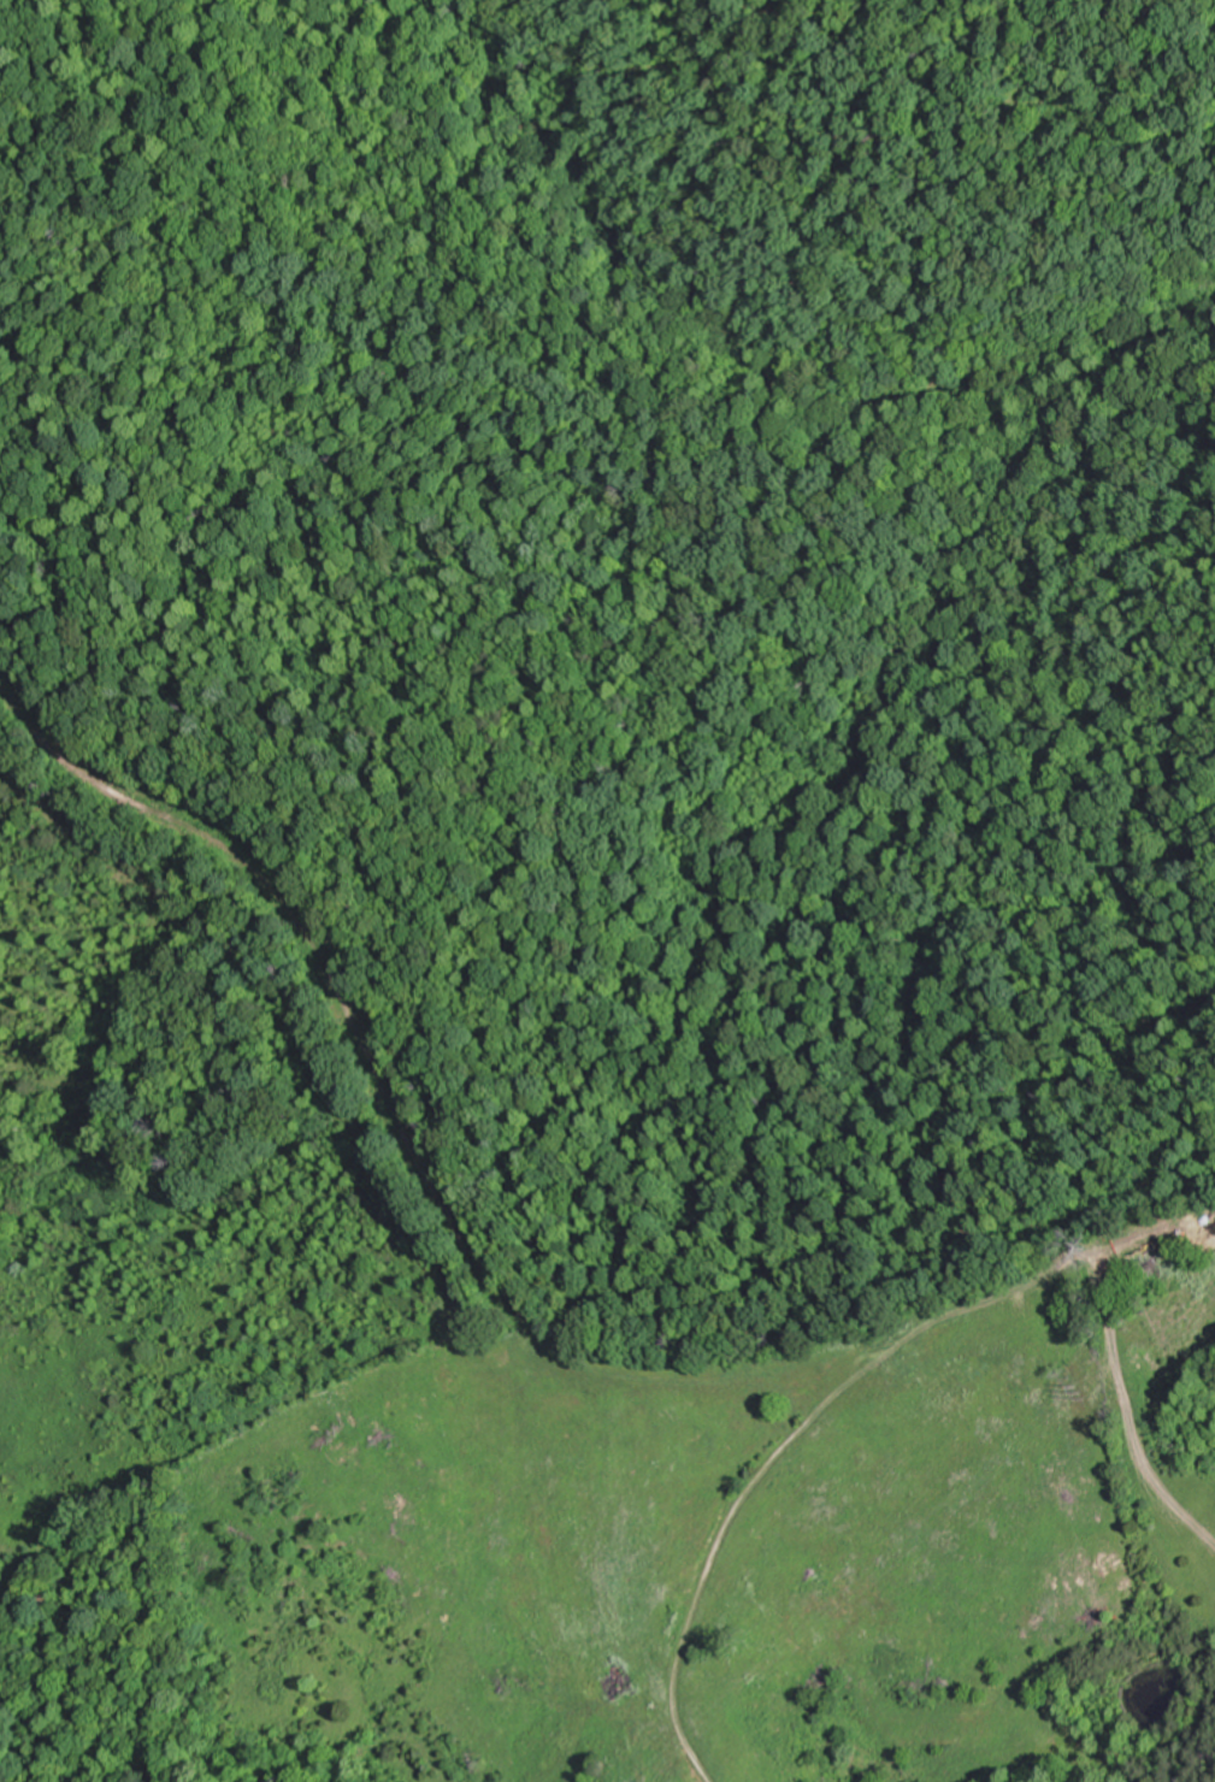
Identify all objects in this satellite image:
road: (64, 1336)

